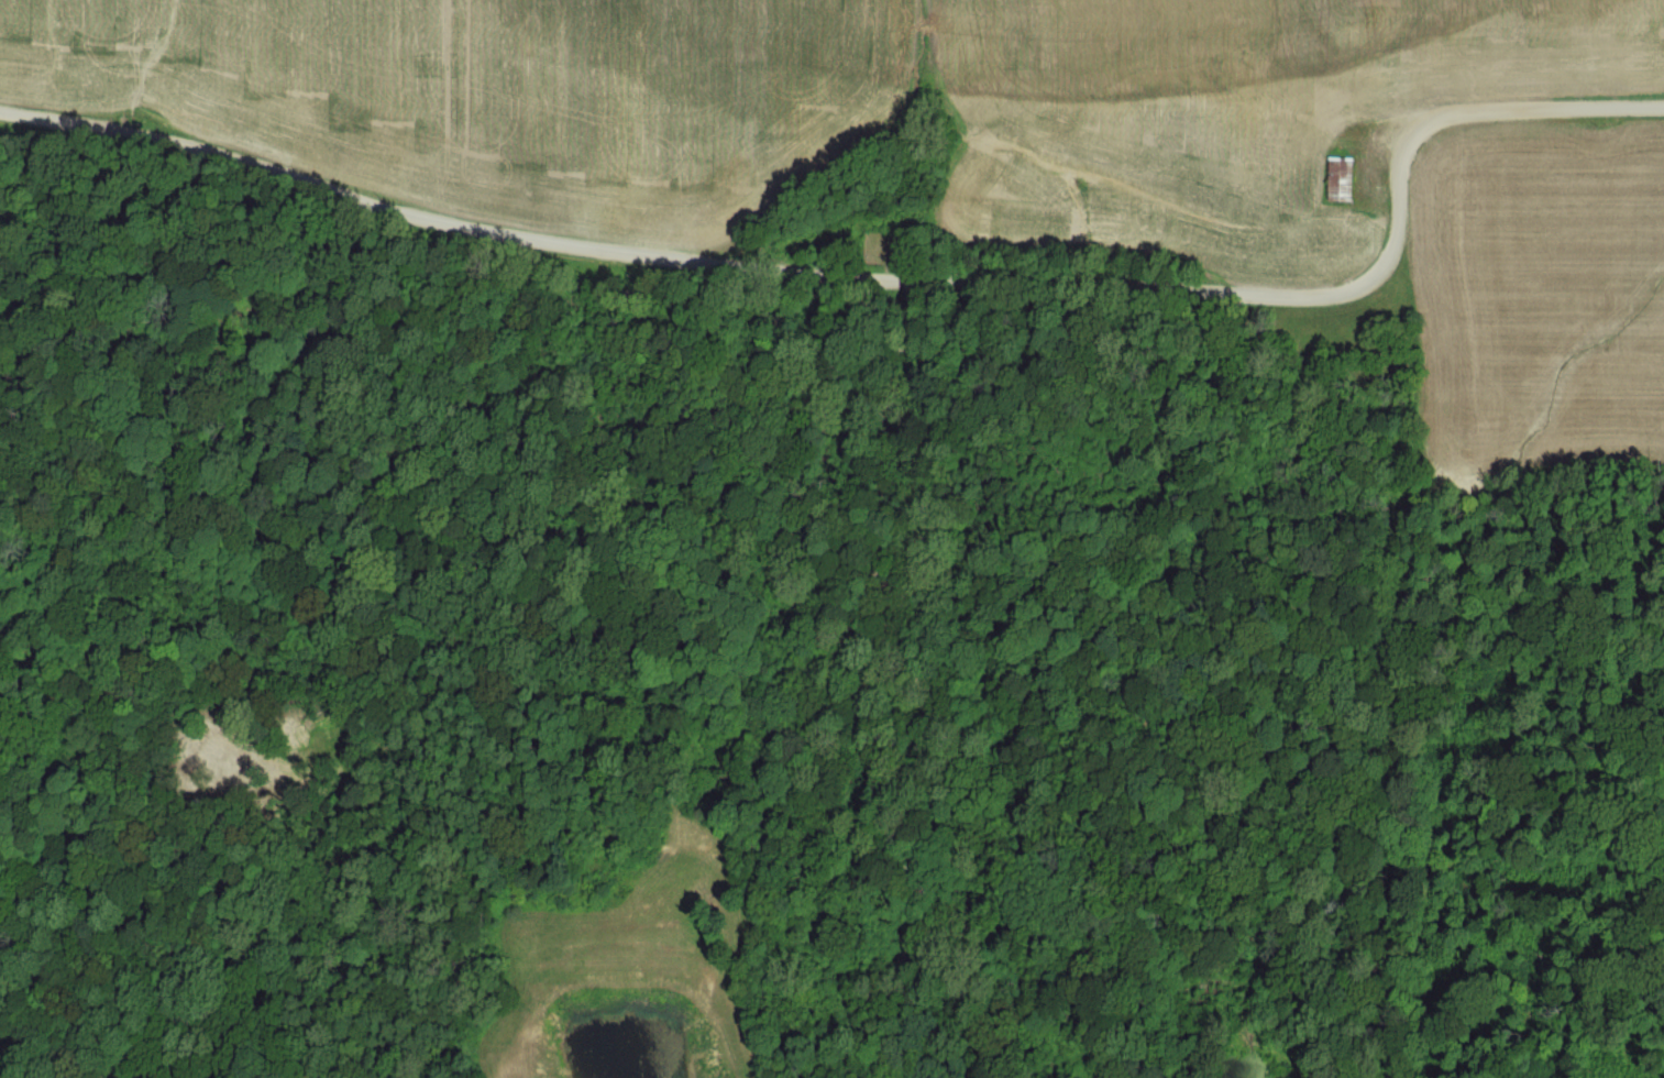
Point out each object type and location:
building: (1343, 179)
road: (880, 277)
road: (923, 675)

